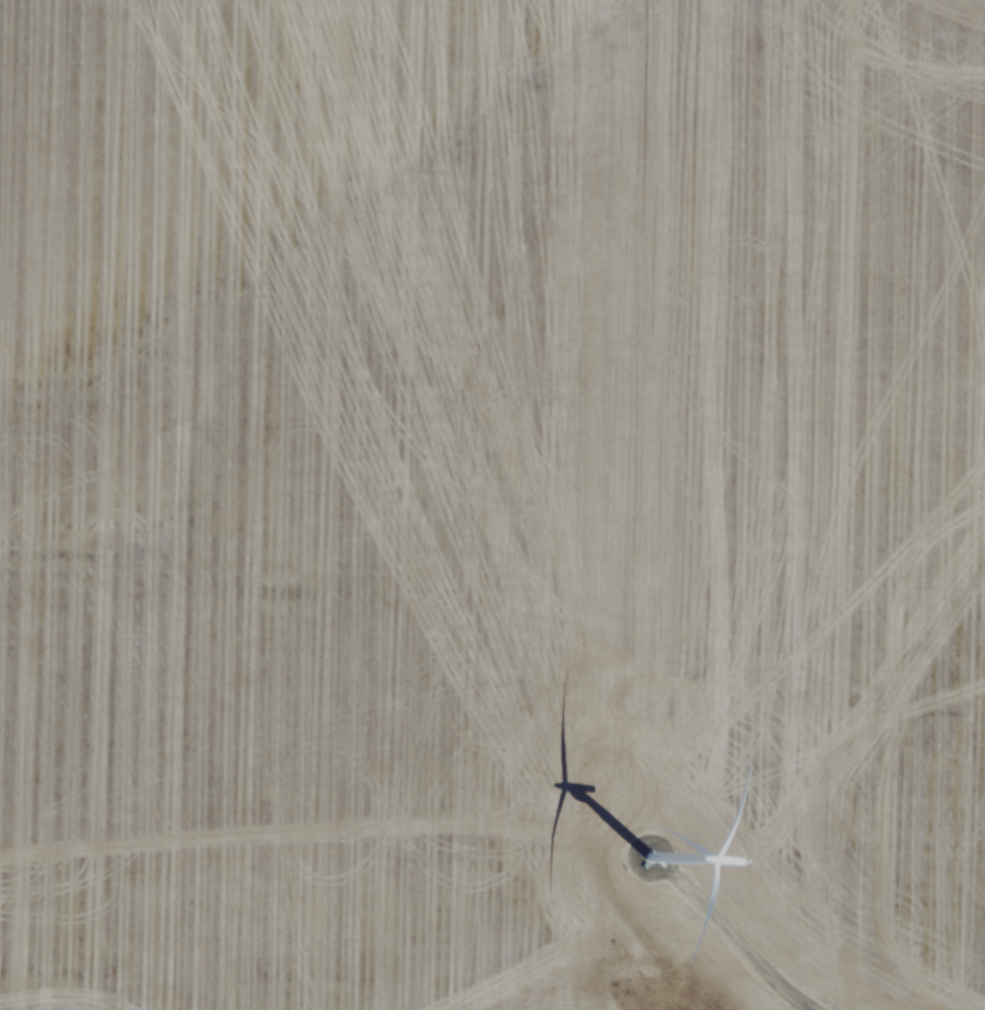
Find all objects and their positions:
wind turbine: (663, 870)
road: (747, 949)

